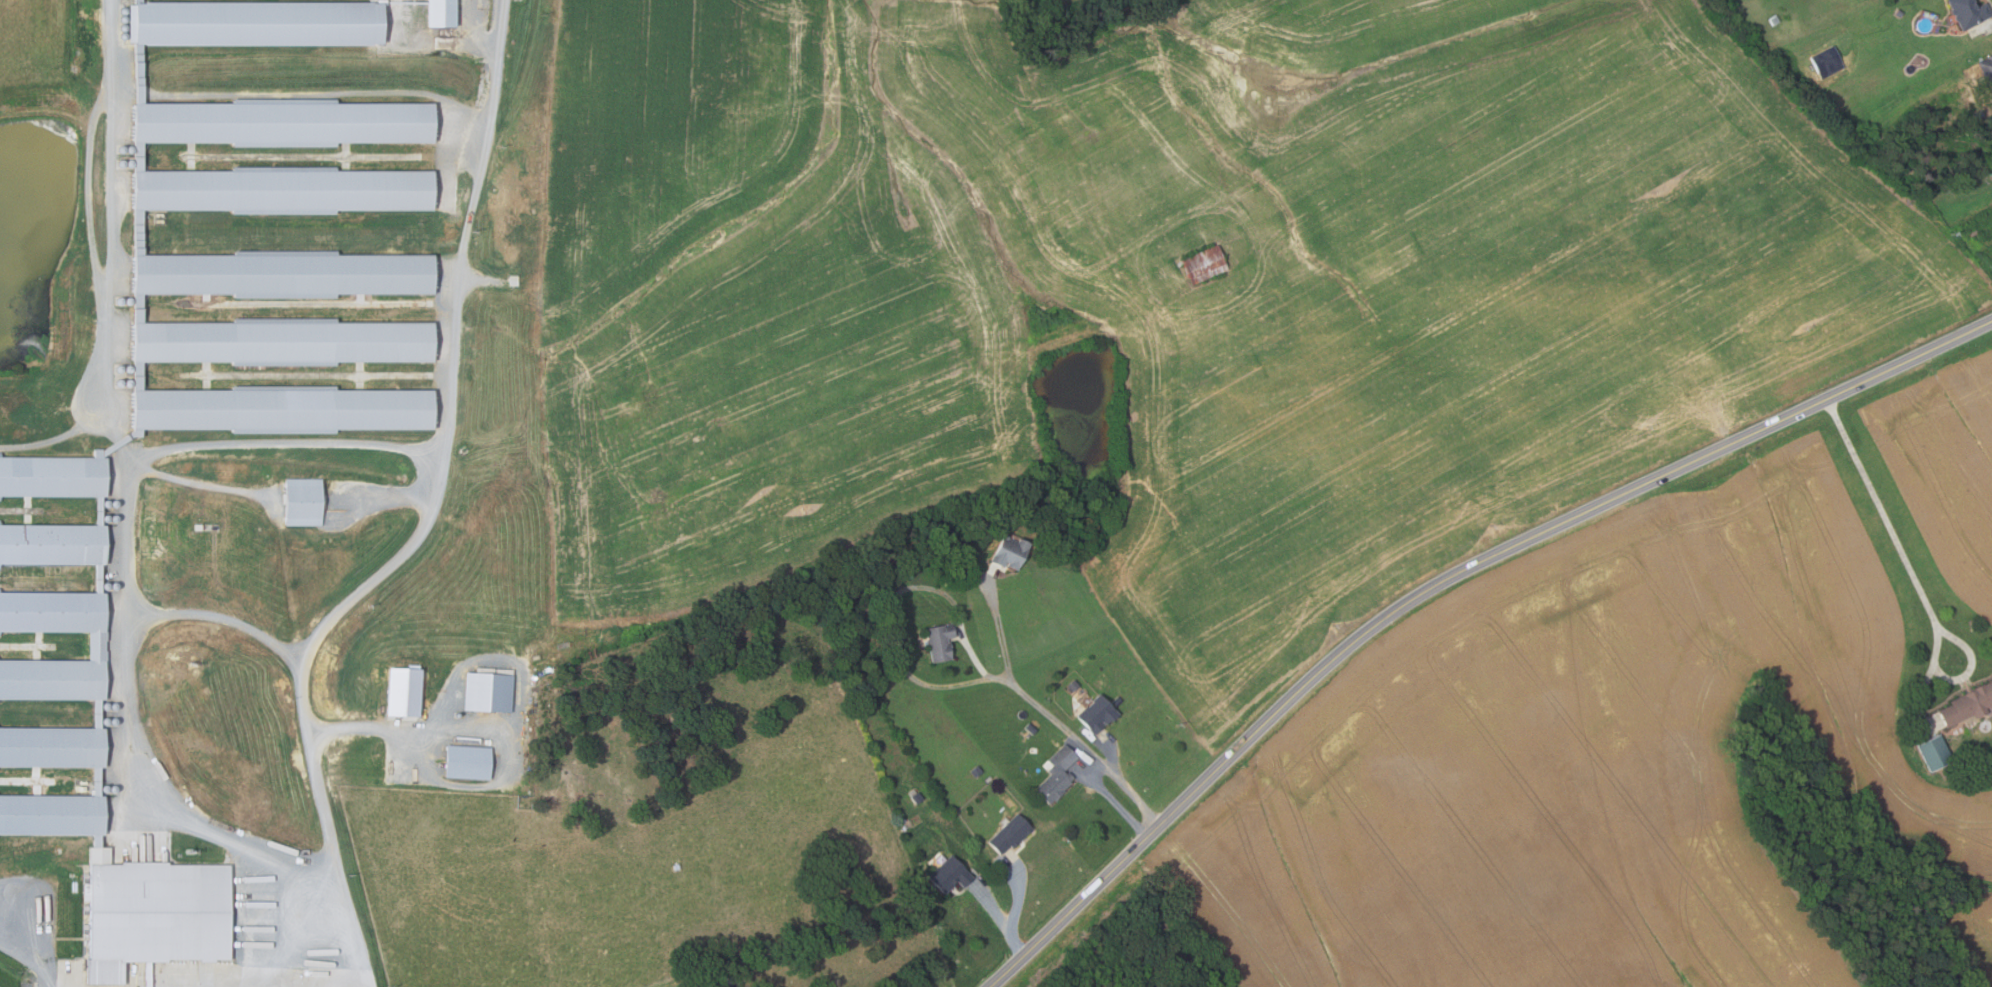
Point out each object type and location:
crop: (1046, 8)
building: (445, 11)
building: (1968, 13)
building: (262, 20)
building: (1773, 20)
road: (1987, 29)
building: (1826, 64)
building: (1986, 69)
building: (286, 122)
road: (436, 125)
building: (290, 188)
building: (1205, 264)
building: (287, 272)
crop: (1183, 285)
road: (444, 335)
building: (283, 342)
road: (97, 394)
building: (283, 410)
road: (280, 443)
crop: (1945, 465)
building: (53, 476)
building: (306, 501)
road: (1885, 516)
building: (53, 544)
building: (1011, 552)
building: (903, 571)
road: (1439, 578)
road: (893, 613)
road: (1000, 626)
building: (940, 642)
building: (97, 646)
crop: (1836, 654)
road: (292, 662)
building: (1071, 685)
building: (406, 691)
building: (490, 691)
building: (1117, 701)
building: (1969, 704)
building: (1097, 714)
road: (490, 734)
building: (52, 746)
road: (1087, 749)
road: (1111, 752)
building: (1933, 752)
building: (467, 763)
building: (974, 771)
building: (1054, 774)
crop: (1517, 796)
building: (915, 797)
road: (1114, 801)
road: (164, 802)
road: (326, 811)
building: (52, 814)
building: (1009, 834)
building: (949, 875)
road: (1020, 896)
road: (993, 910)
building: (161, 911)
building: (1155, 920)
road: (283, 932)
road: (30, 938)
road: (1017, 943)
road: (13, 950)
road: (318, 980)
building: (733, 981)

